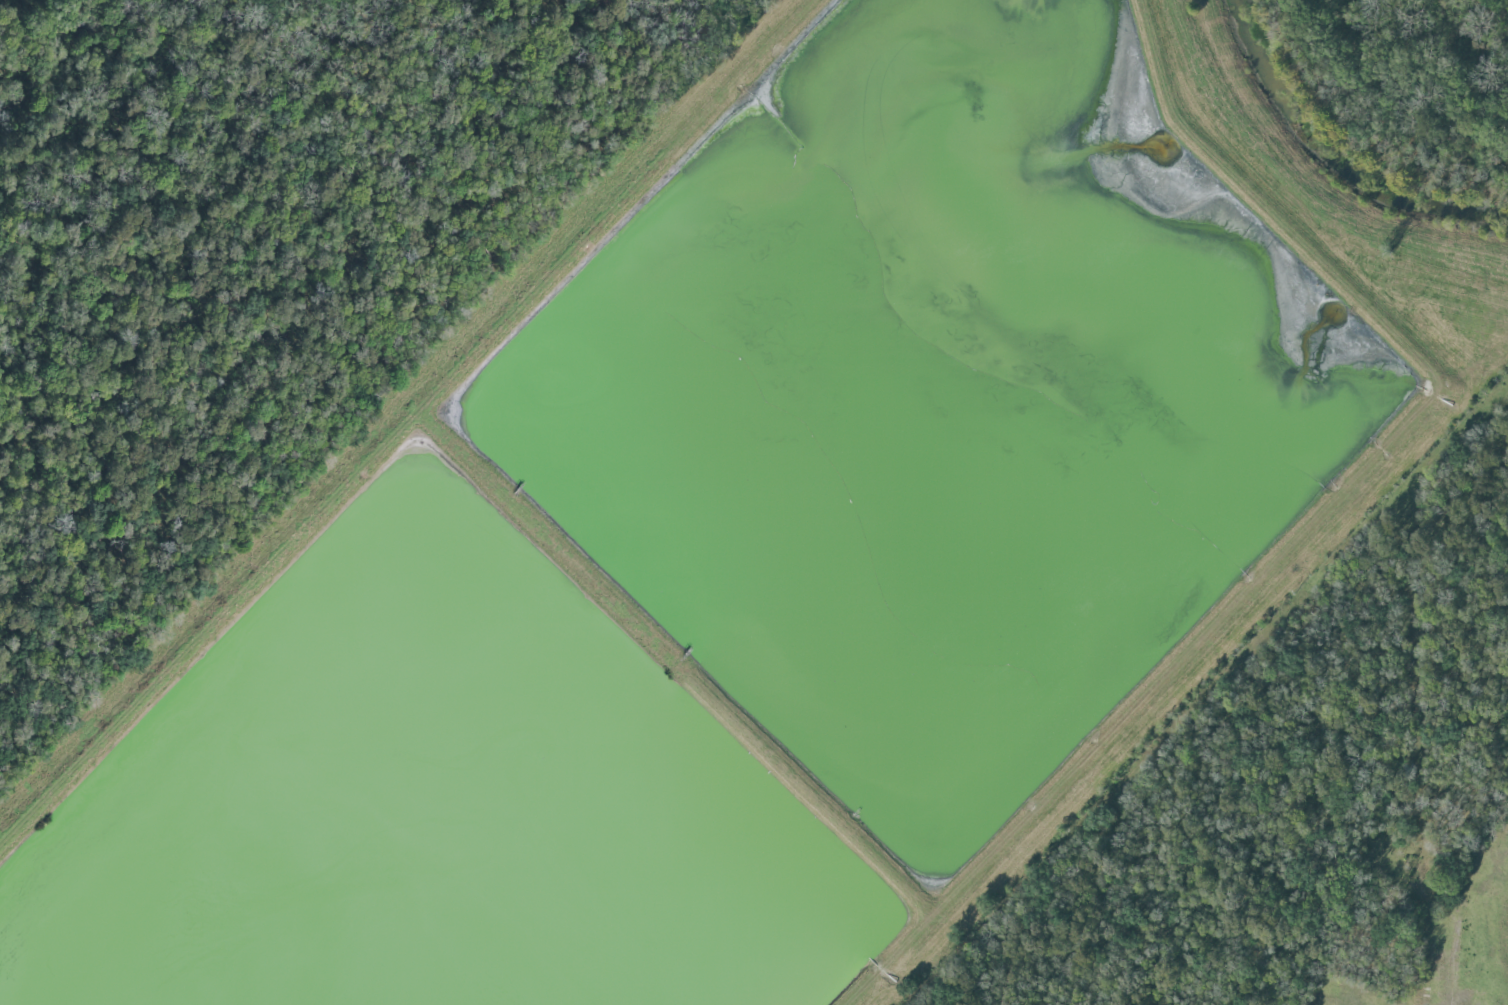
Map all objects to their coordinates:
river: (1332, 159)
road: (1462, 982)

